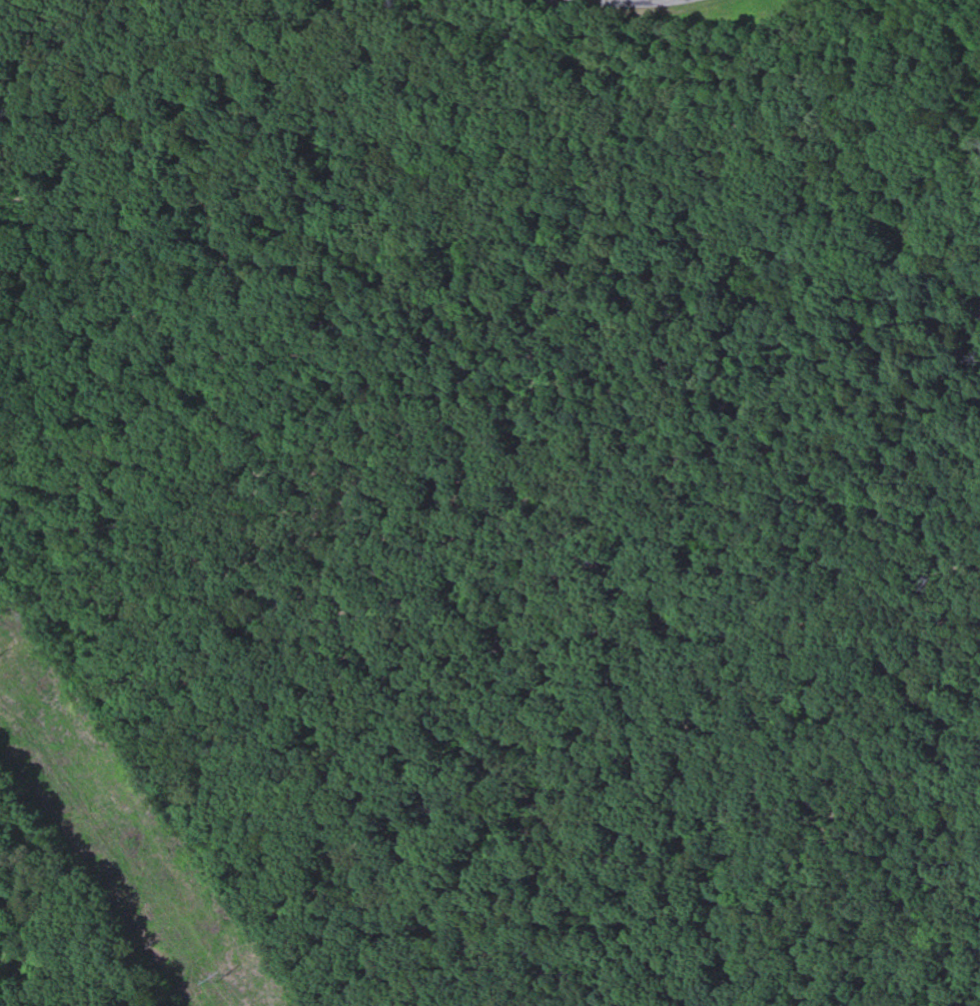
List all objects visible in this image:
road: (635, 3)

